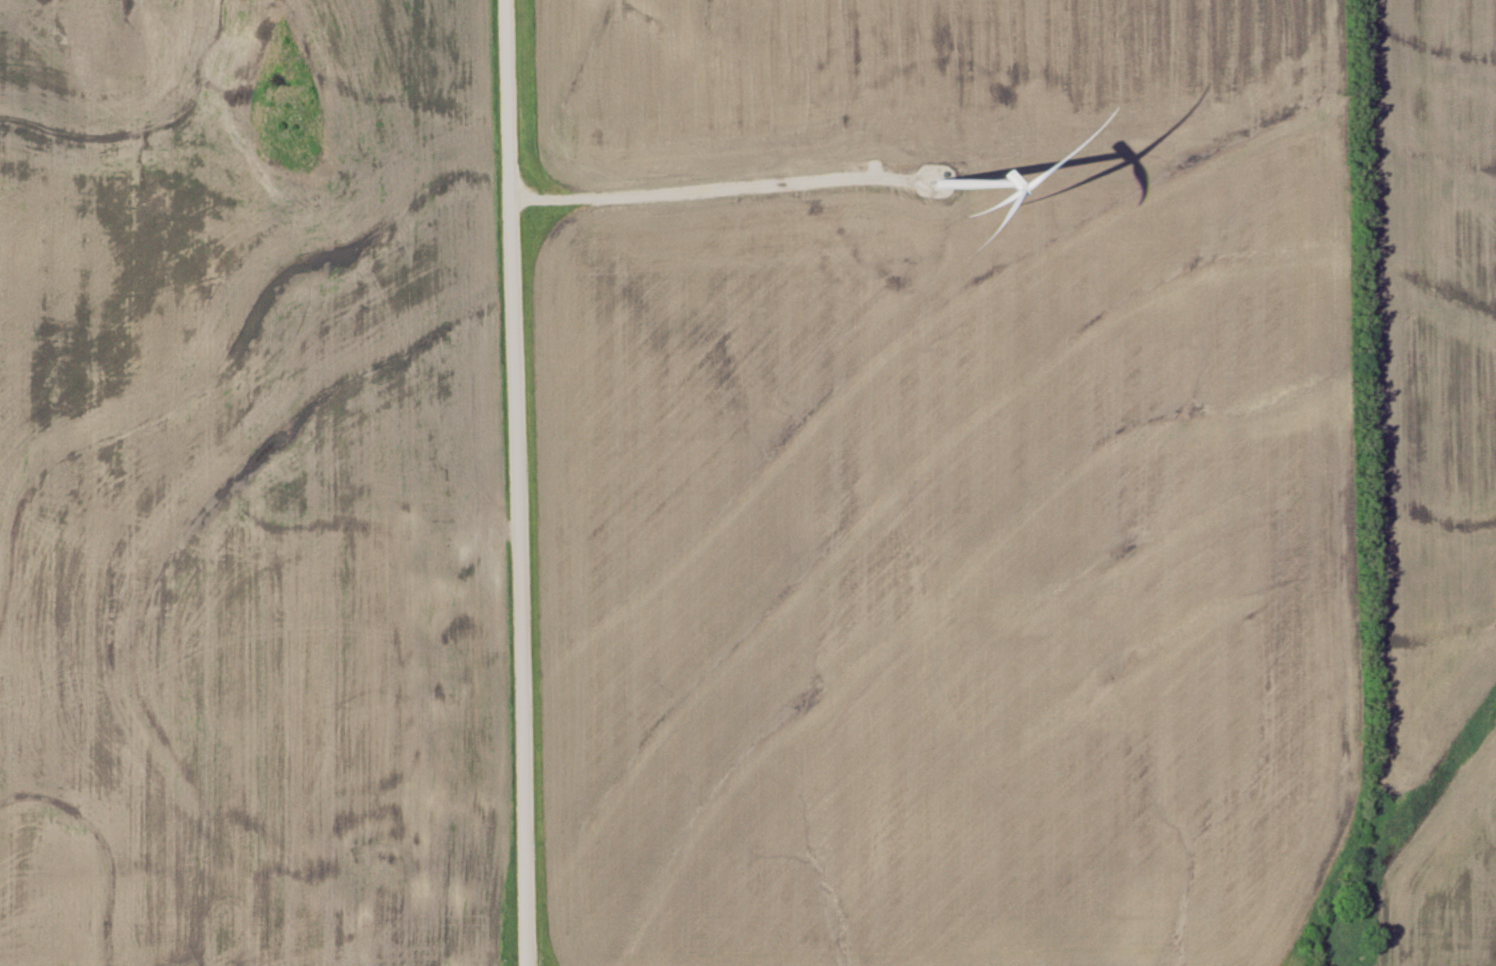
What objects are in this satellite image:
wind turbine: (935, 187)
road: (520, 482)

